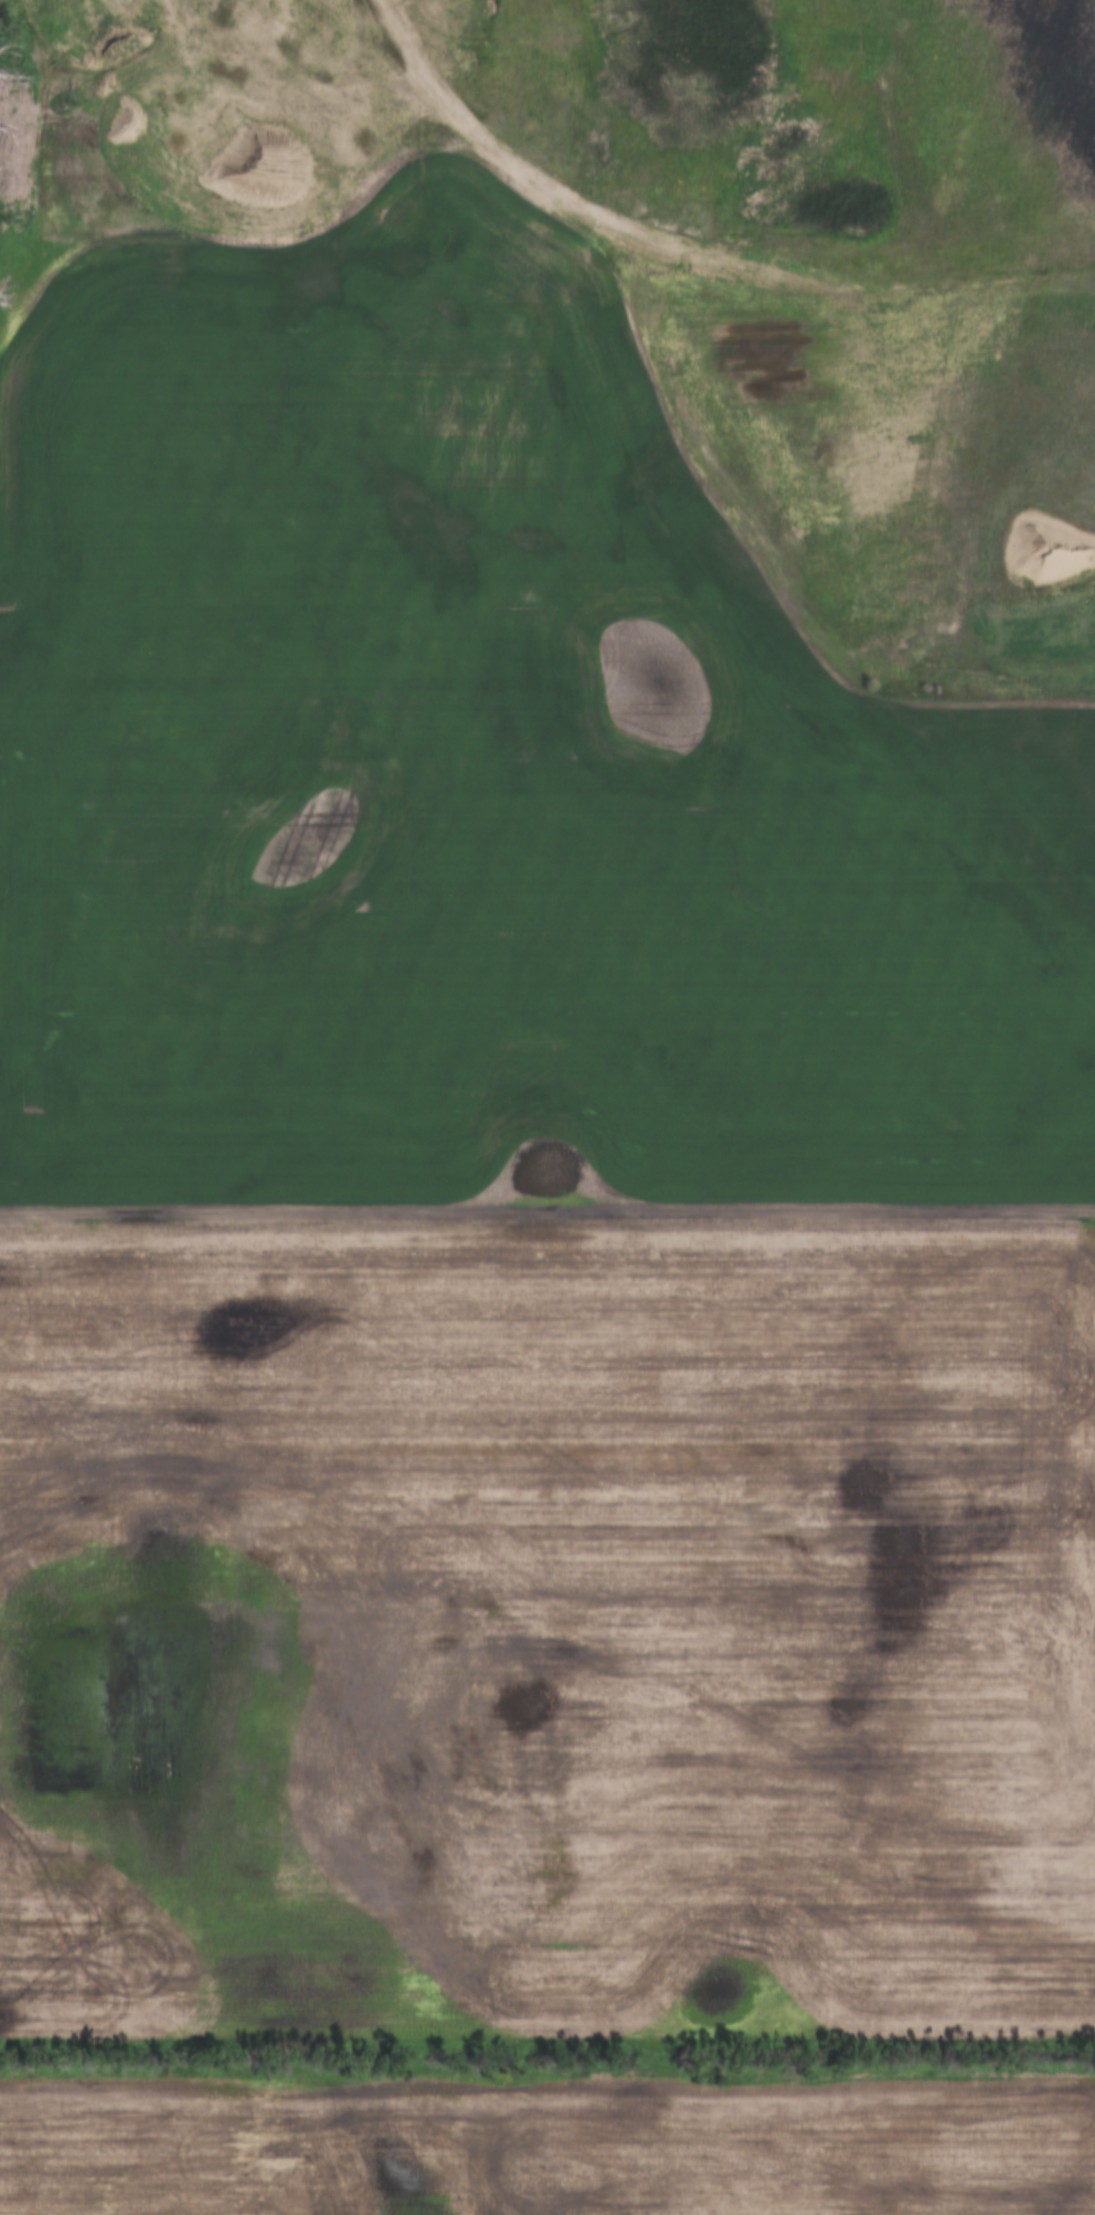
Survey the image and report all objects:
road: (547, 1196)

